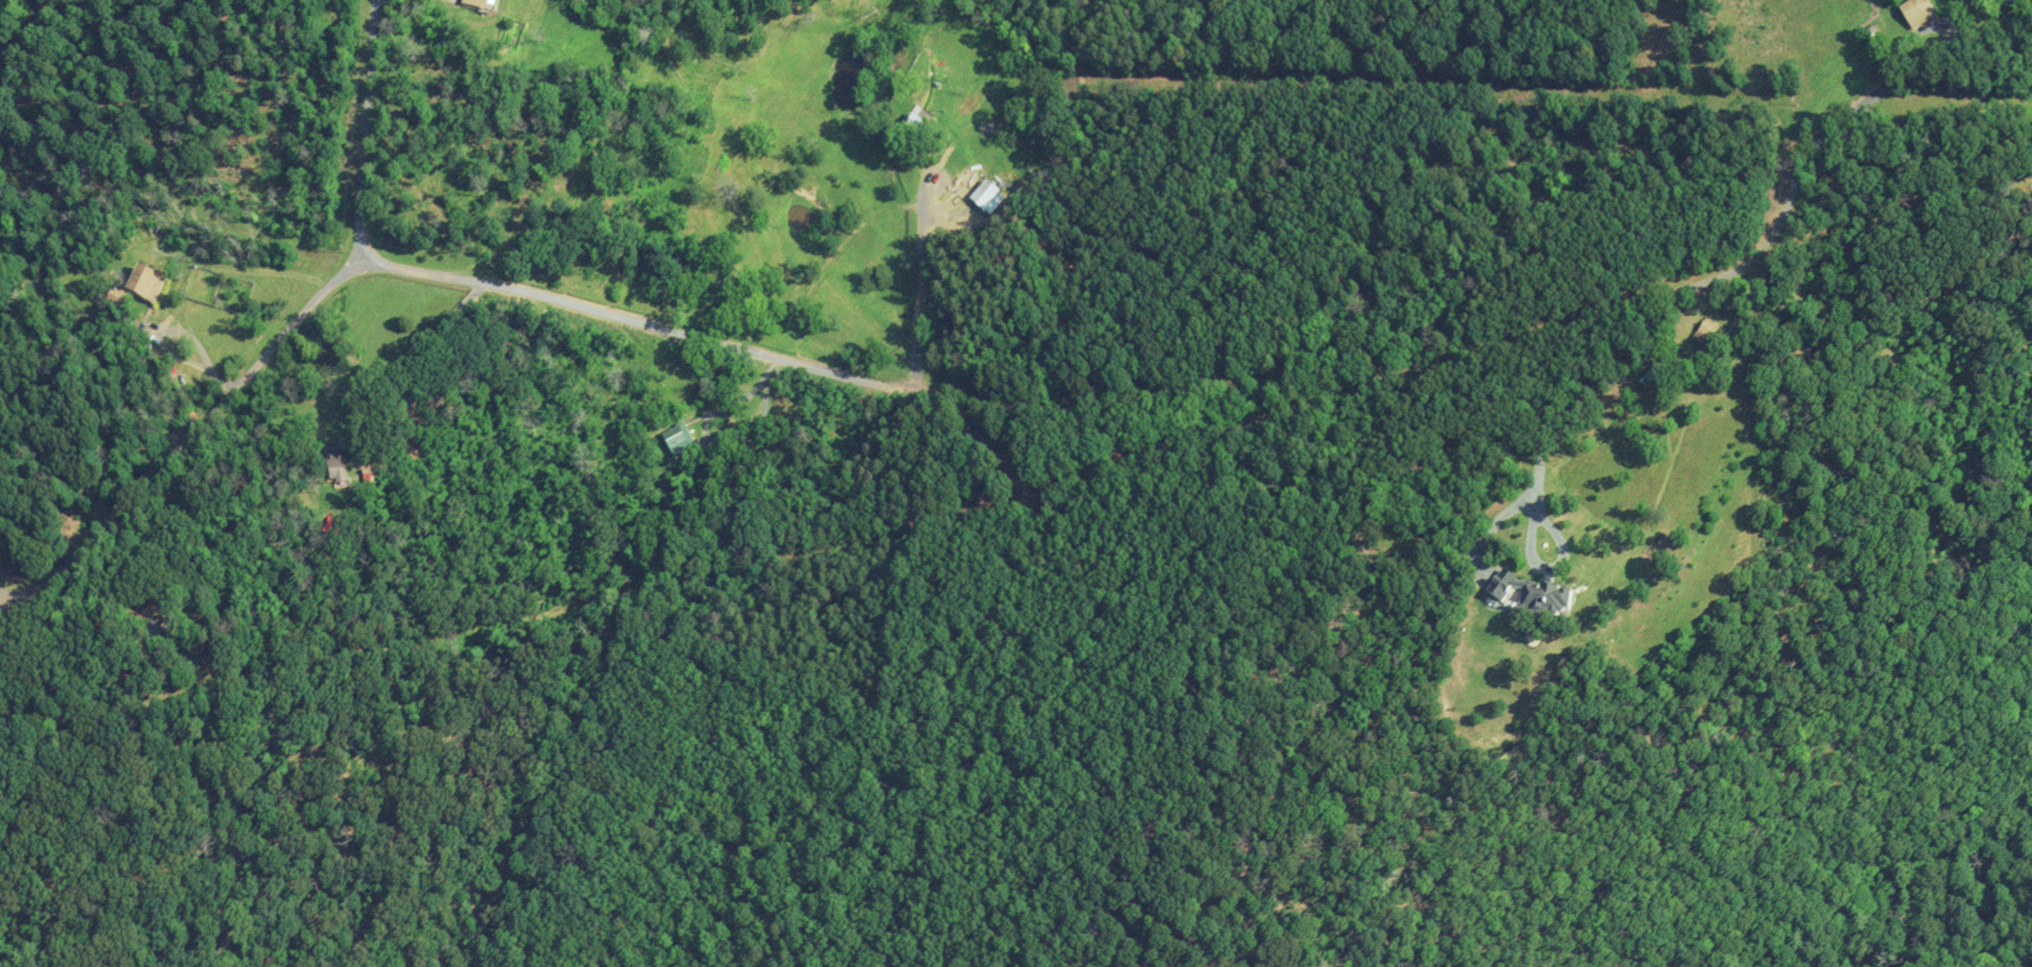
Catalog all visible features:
building: (483, 4)
building: (1920, 11)
road: (105, 147)
road: (841, 174)
building: (985, 196)
building: (149, 286)
building: (119, 307)
road: (1048, 409)
building: (680, 440)
building: (343, 473)
building: (1530, 595)

